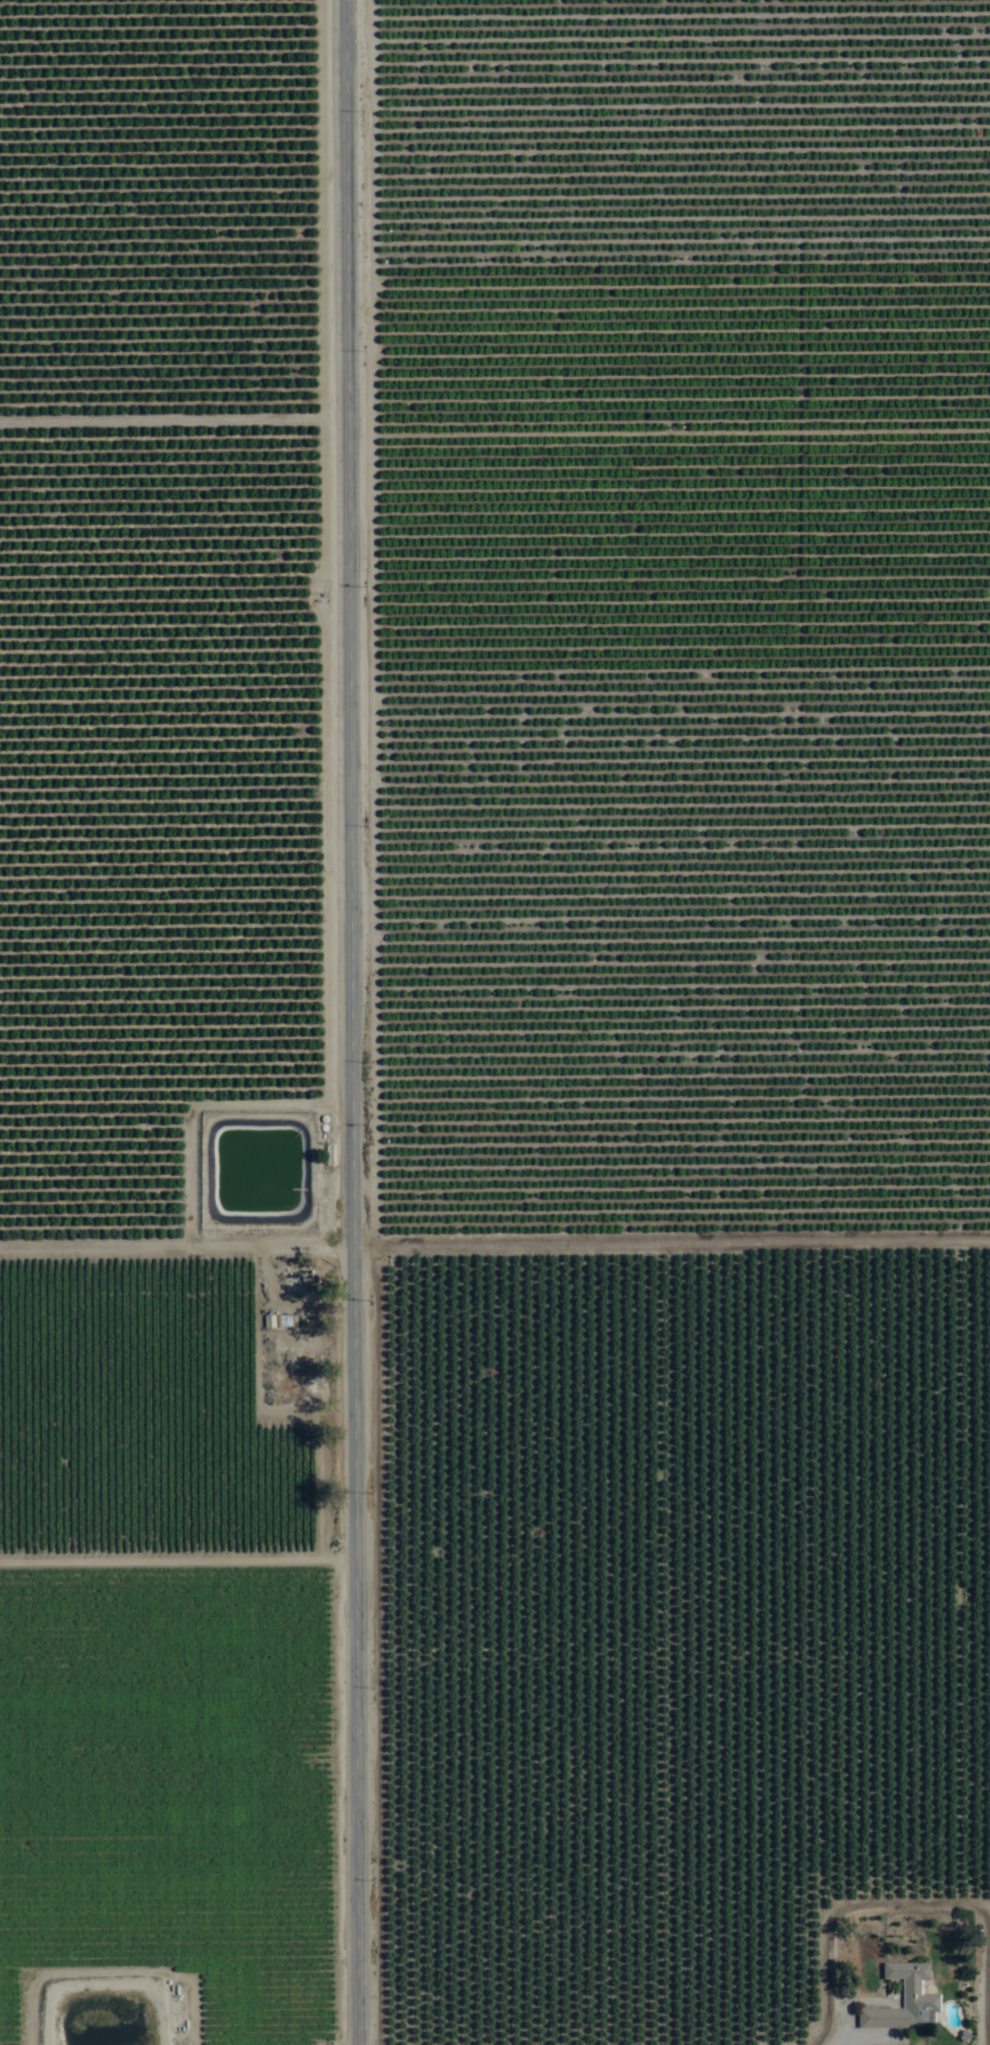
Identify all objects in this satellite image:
building: (140, 43)
road: (354, 1022)
crop: (495, 1022)
wastewater plant: (255, 1176)
road: (495, 1233)
road: (674, 1649)
building: (903, 2001)
wastewater plant: (101, 2019)

